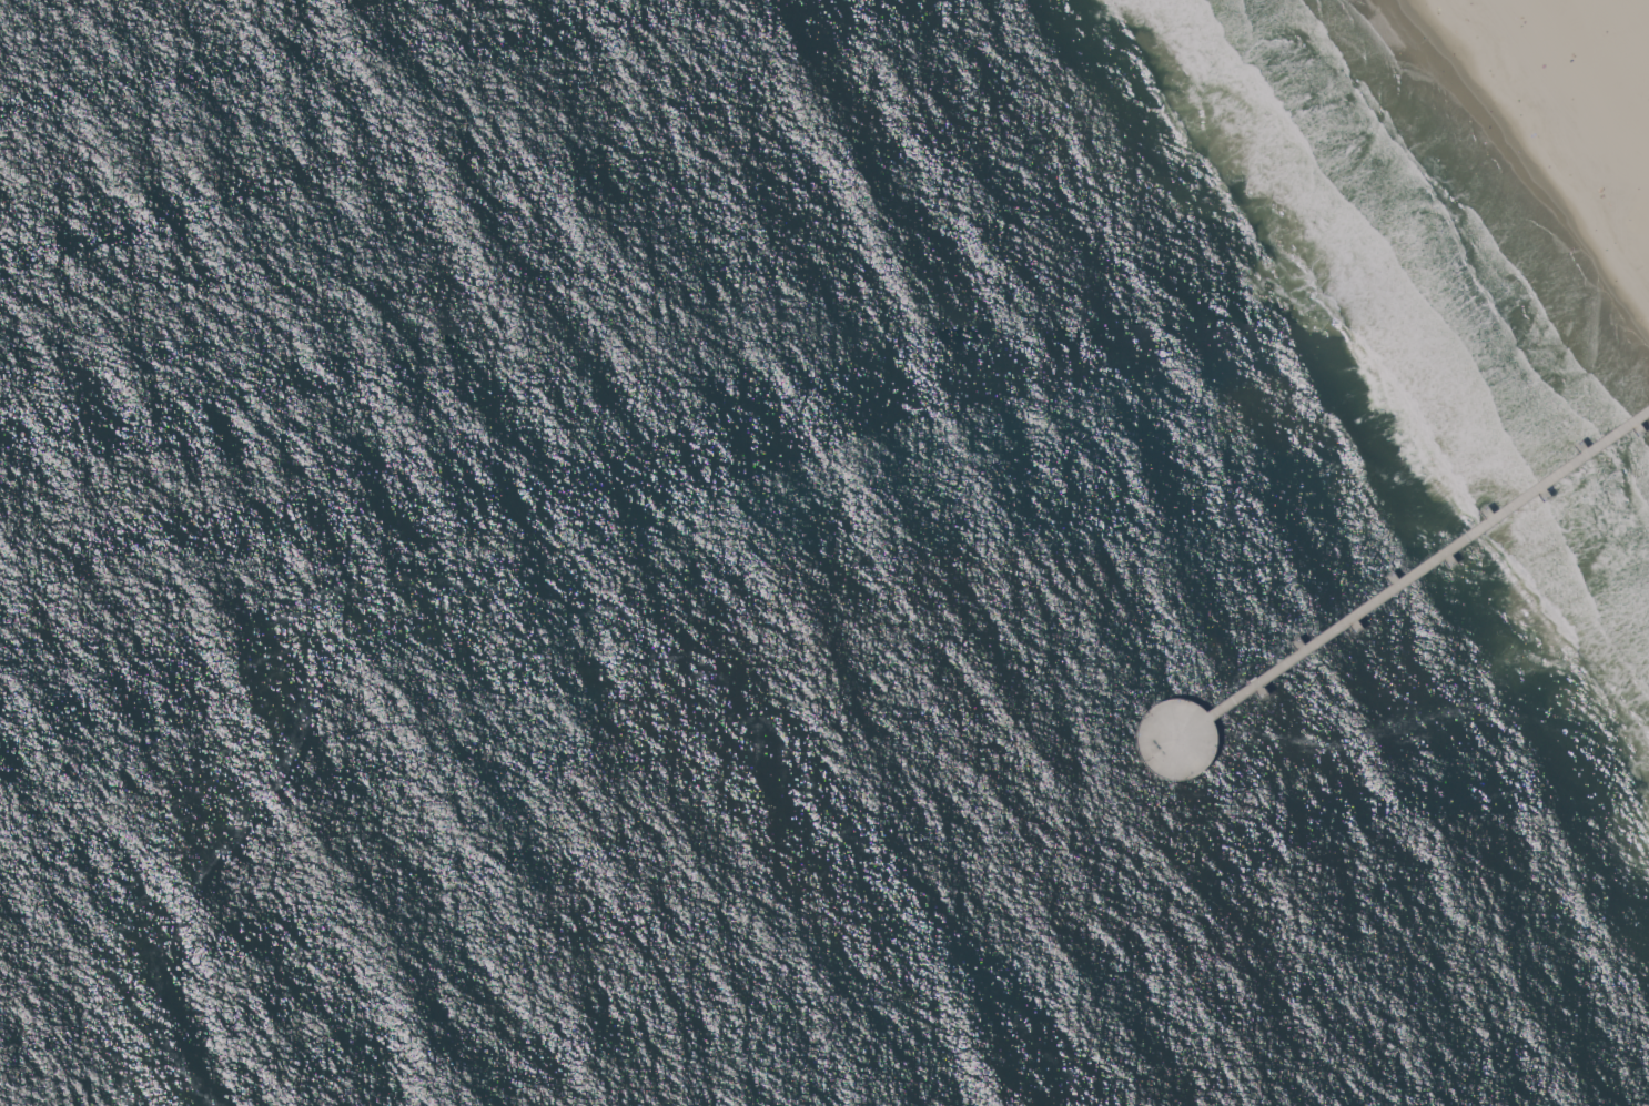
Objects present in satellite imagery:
road: (1403, 579)
pier: (1321, 639)

